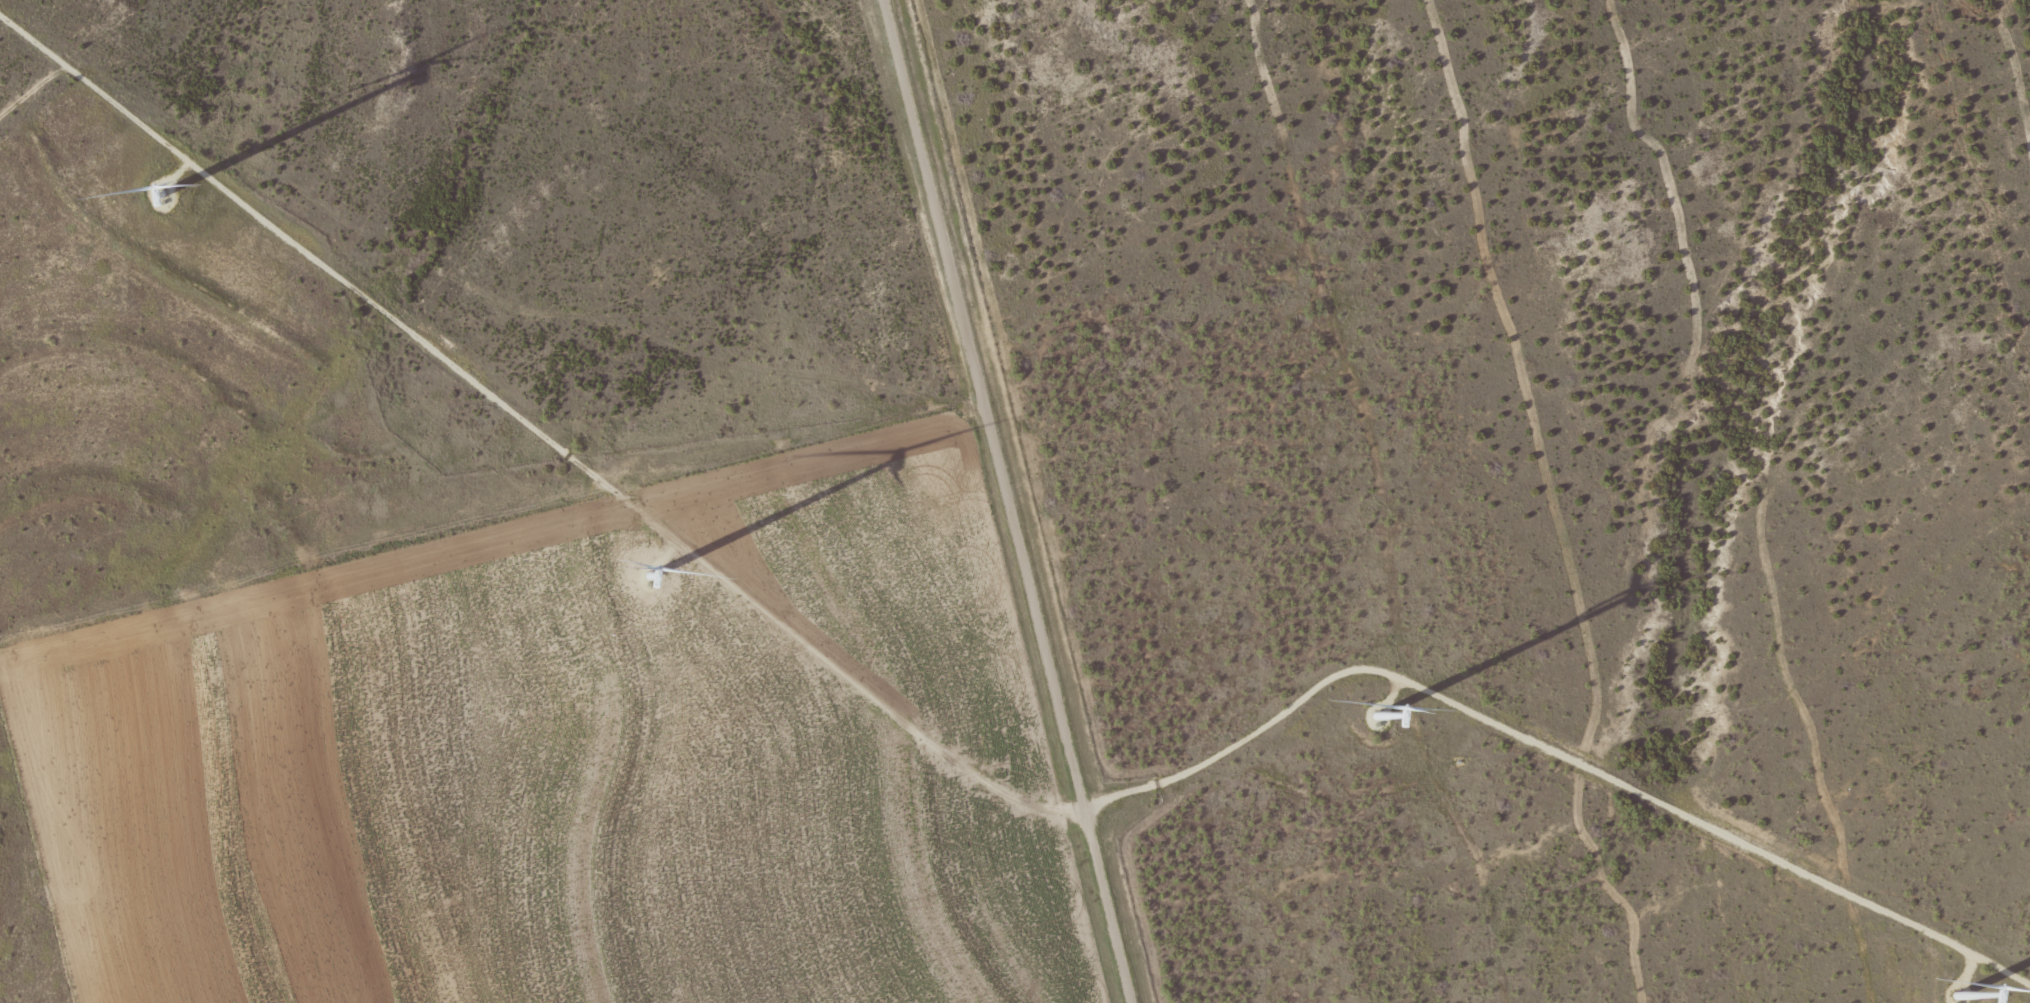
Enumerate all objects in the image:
wind turbine: (159, 192)
road: (472, 251)
road: (1010, 500)
wind turbine: (648, 561)
wind turbine: (1392, 713)
wind turbine: (1968, 1001)

